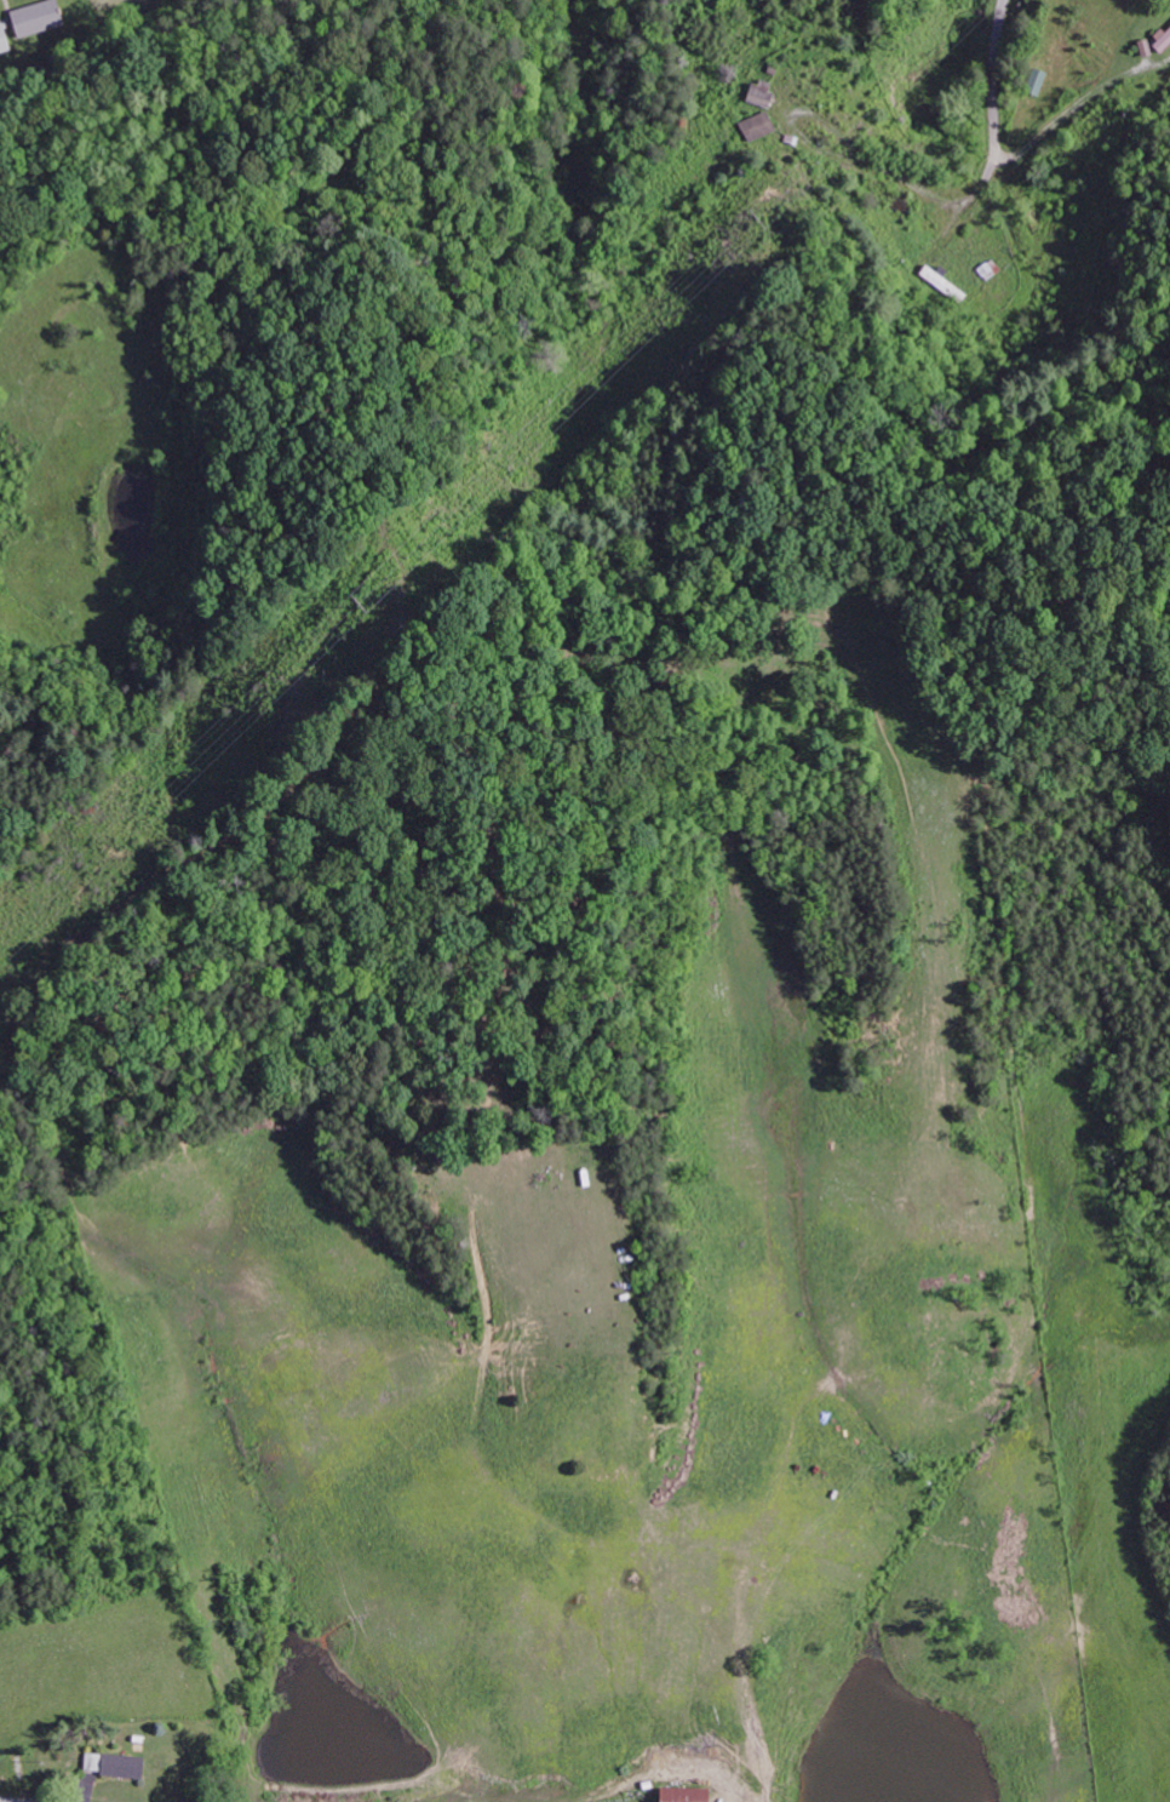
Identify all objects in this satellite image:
building: (31, 18)
building: (1160, 39)
building: (1, 41)
building: (1033, 81)
building: (757, 92)
building: (755, 126)
road: (996, 150)
building: (117, 1764)

